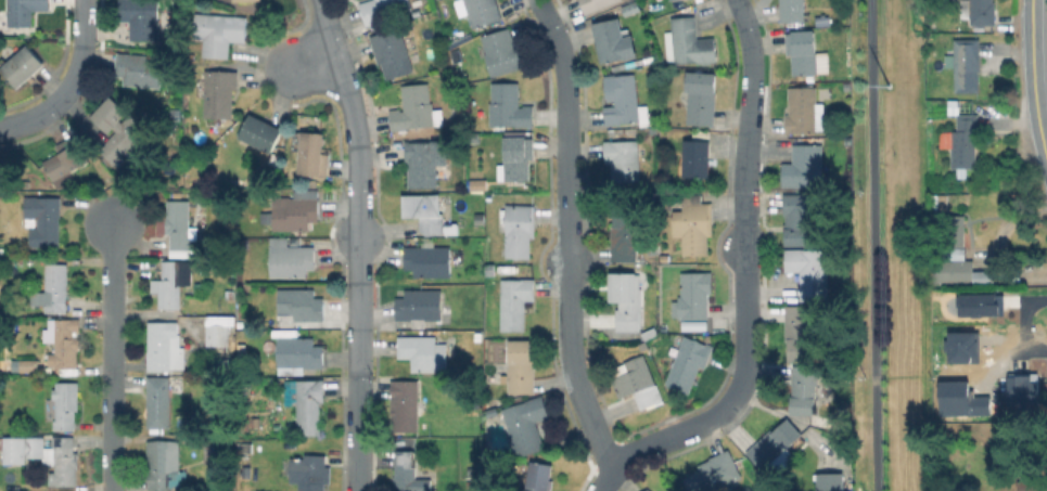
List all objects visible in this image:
building: (241, 0)
building: (596, 4)
building: (383, 9)
building: (794, 10)
building: (24, 11)
building: (483, 11)
building: (979, 11)
building: (141, 17)
building: (222, 34)
building: (611, 40)
building: (691, 41)
building: (503, 51)
building: (392, 52)
building: (806, 52)
road: (307, 57)
building: (967, 64)
building: (23, 65)
building: (138, 69)
road: (1032, 81)
road: (69, 82)
building: (219, 92)
building: (701, 96)
building: (624, 101)
building: (508, 106)
building: (416, 108)
building: (804, 111)
building: (175, 114)
building: (118, 127)
building: (260, 132)
building: (965, 140)
building: (311, 154)
building: (67, 157)
building: (697, 157)
building: (515, 158)
building: (623, 158)
building: (426, 160)
building: (804, 165)
building: (474, 184)
building: (425, 210)
building: (295, 211)
building: (44, 219)
building: (797, 219)
building: (480, 220)
building: (180, 223)
building: (693, 223)
building: (520, 229)
building: (949, 230)
building: (624, 232)
road: (567, 234)
road: (355, 242)
road: (873, 245)
building: (291, 258)
building: (429, 258)
road: (745, 268)
building: (490, 270)
building: (957, 270)
building: (809, 271)
building: (171, 283)
building: (53, 288)
building: (693, 295)
building: (626, 300)
building: (515, 301)
building: (301, 303)
building: (419, 306)
building: (186, 321)
building: (241, 323)
building: (219, 328)
building: (799, 331)
building: (650, 332)
building: (63, 340)
building: (162, 348)
building: (301, 352)
building: (423, 352)
road: (1027, 353)
road: (112, 358)
building: (688, 363)
building: (26, 364)
building: (521, 366)
building: (985, 377)
building: (638, 382)
building: (804, 389)
building: (161, 400)
building: (66, 404)
building: (405, 404)
building: (309, 405)
building: (254, 422)
building: (526, 424)
building: (775, 444)
building: (247, 447)
building: (44, 454)
building: (217, 454)
building: (165, 464)
building: (310, 473)
building: (411, 473)
building: (714, 473)
building: (535, 476)
road: (605, 477)
building: (830, 481)
building: (1, 486)
building: (1026, 486)
building: (648, 490)

